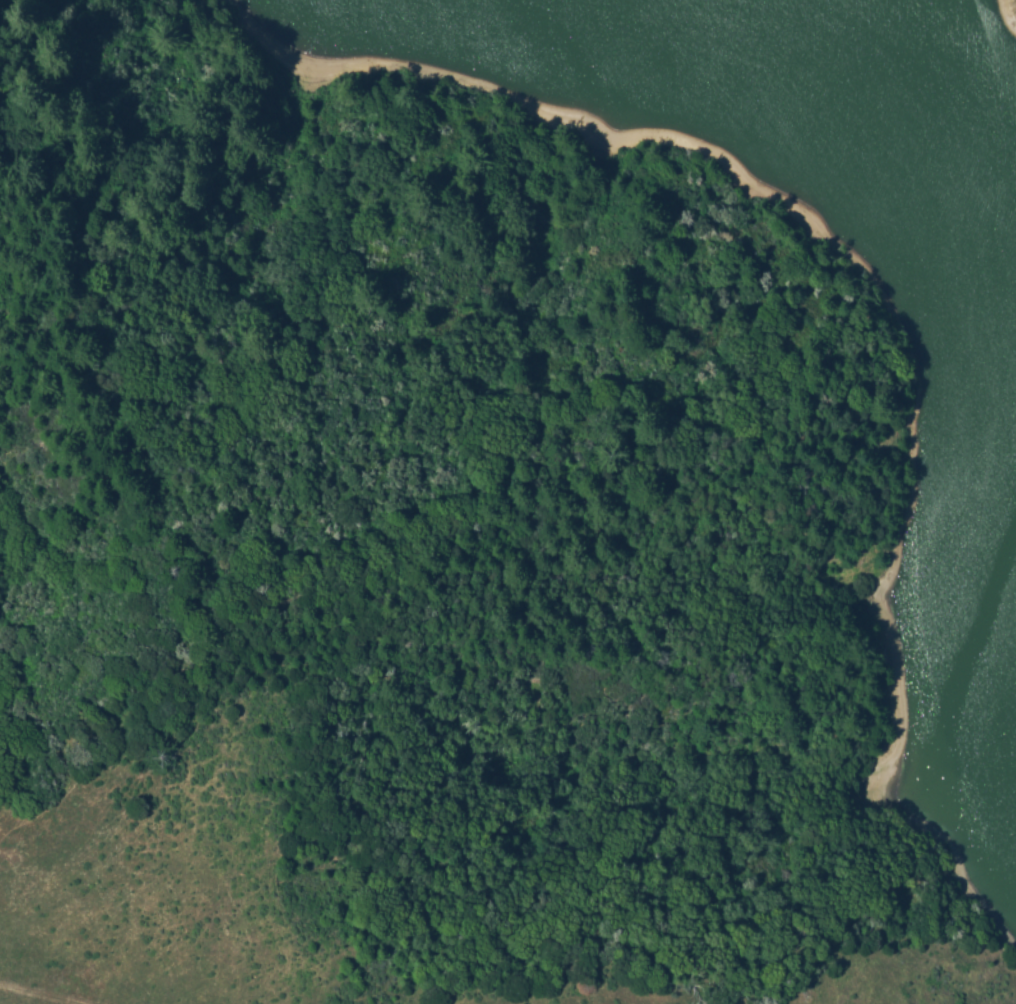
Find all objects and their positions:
road: (28, 998)

